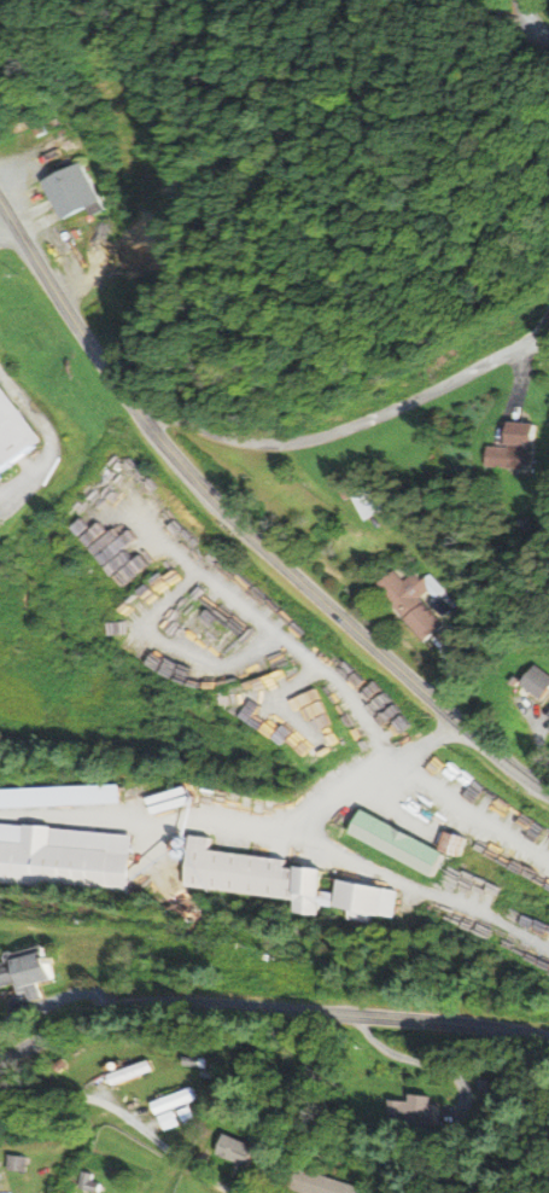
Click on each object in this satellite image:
road: (504, 18)
road: (531, 18)
road: (537, 34)
building: (88, 191)
road: (6, 226)
road: (350, 427)
building: (16, 432)
road: (47, 437)
building: (510, 449)
building: (369, 504)
road: (240, 525)
building: (415, 605)
building: (533, 683)
building: (547, 714)
road: (256, 828)
building: (399, 844)
building: (64, 861)
building: (273, 883)
building: (24, 972)
road: (268, 1009)
building: (123, 1075)
building: (167, 1110)
building: (405, 1111)
road: (125, 1115)
building: (226, 1152)
building: (18, 1163)
building: (89, 1182)
building: (315, 1185)

